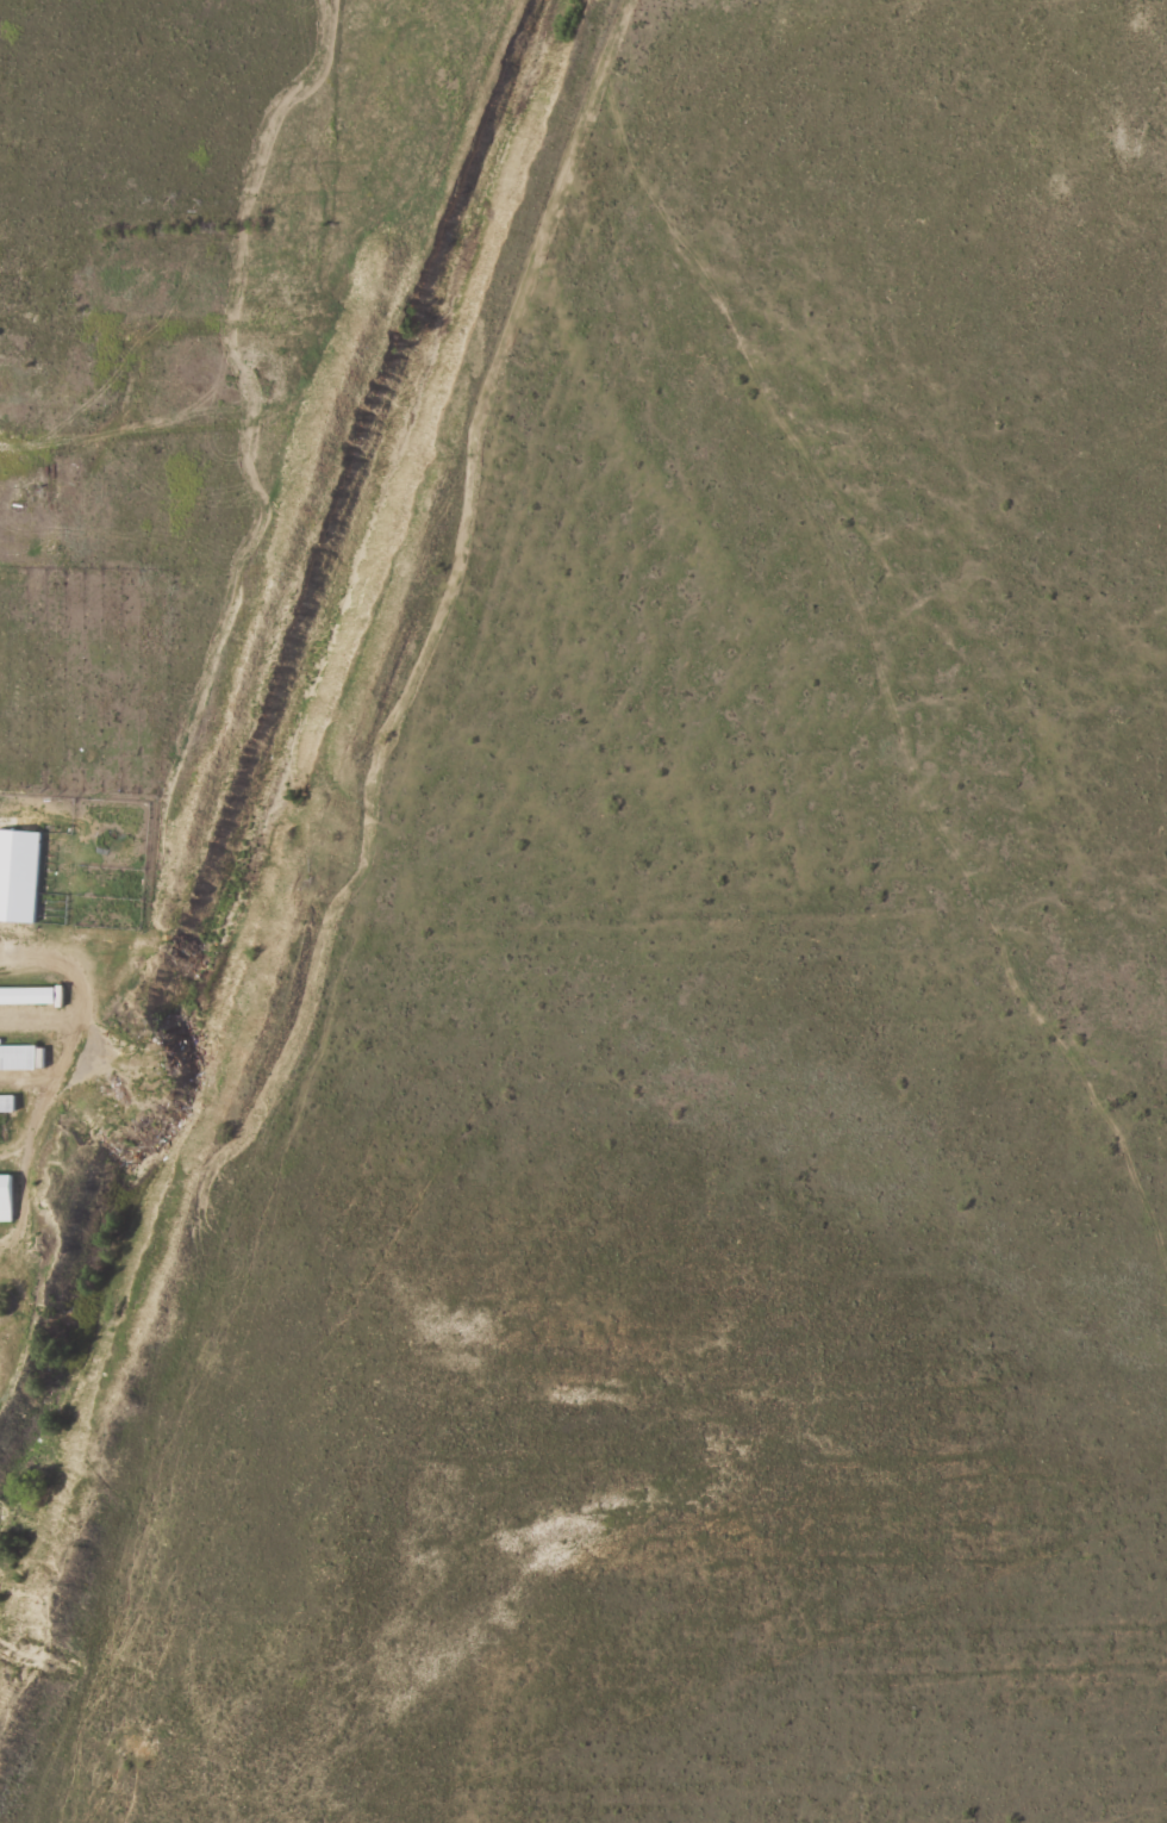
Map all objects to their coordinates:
railway: (287, 822)
building: (19, 875)
building: (32, 995)
building: (21, 1057)
building: (7, 1103)
building: (6, 1197)

